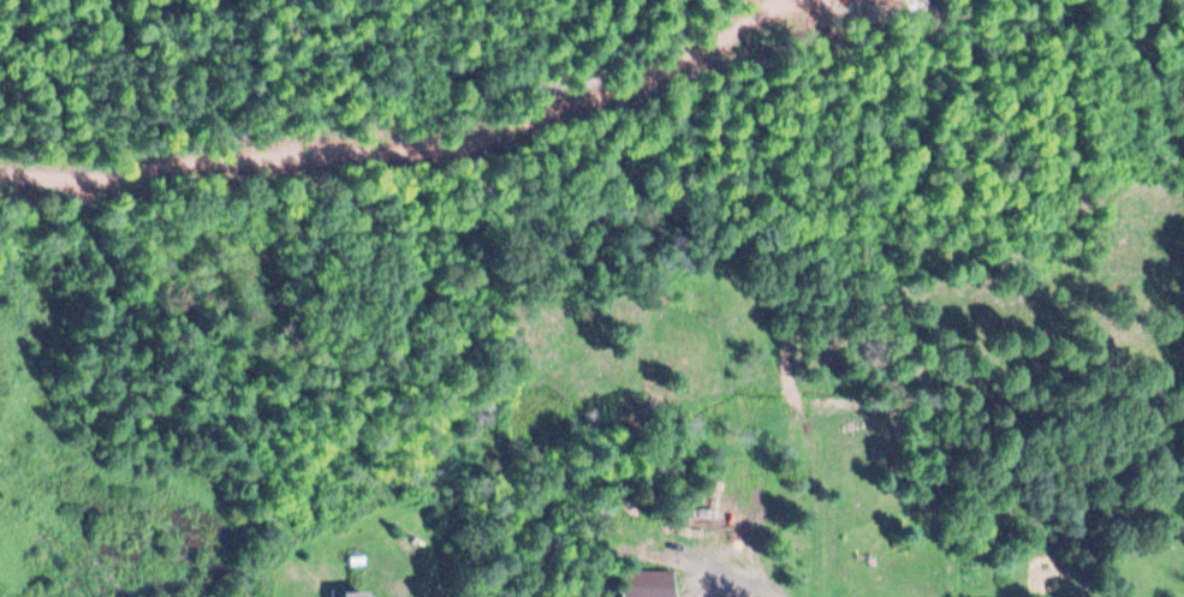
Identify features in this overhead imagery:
building: (642, 591)
building: (352, 593)

